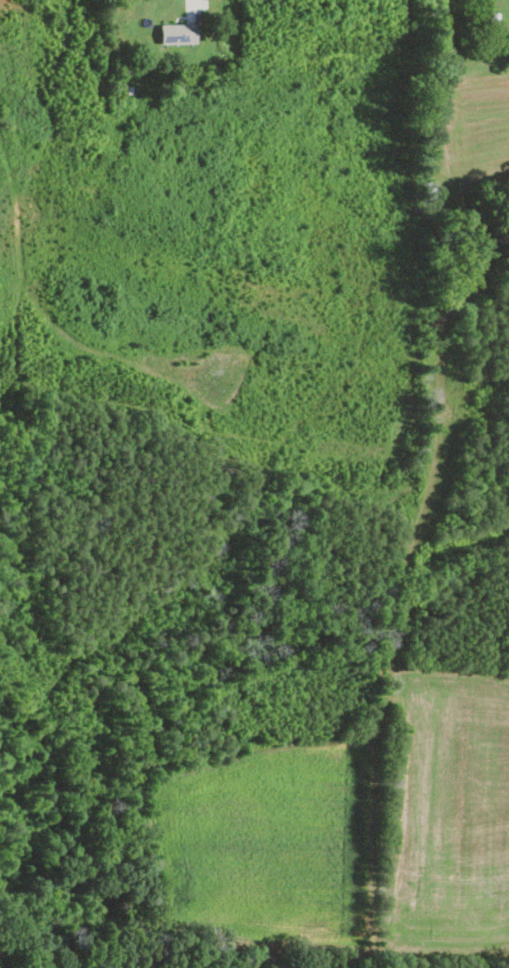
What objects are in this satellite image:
building: (183, 27)

